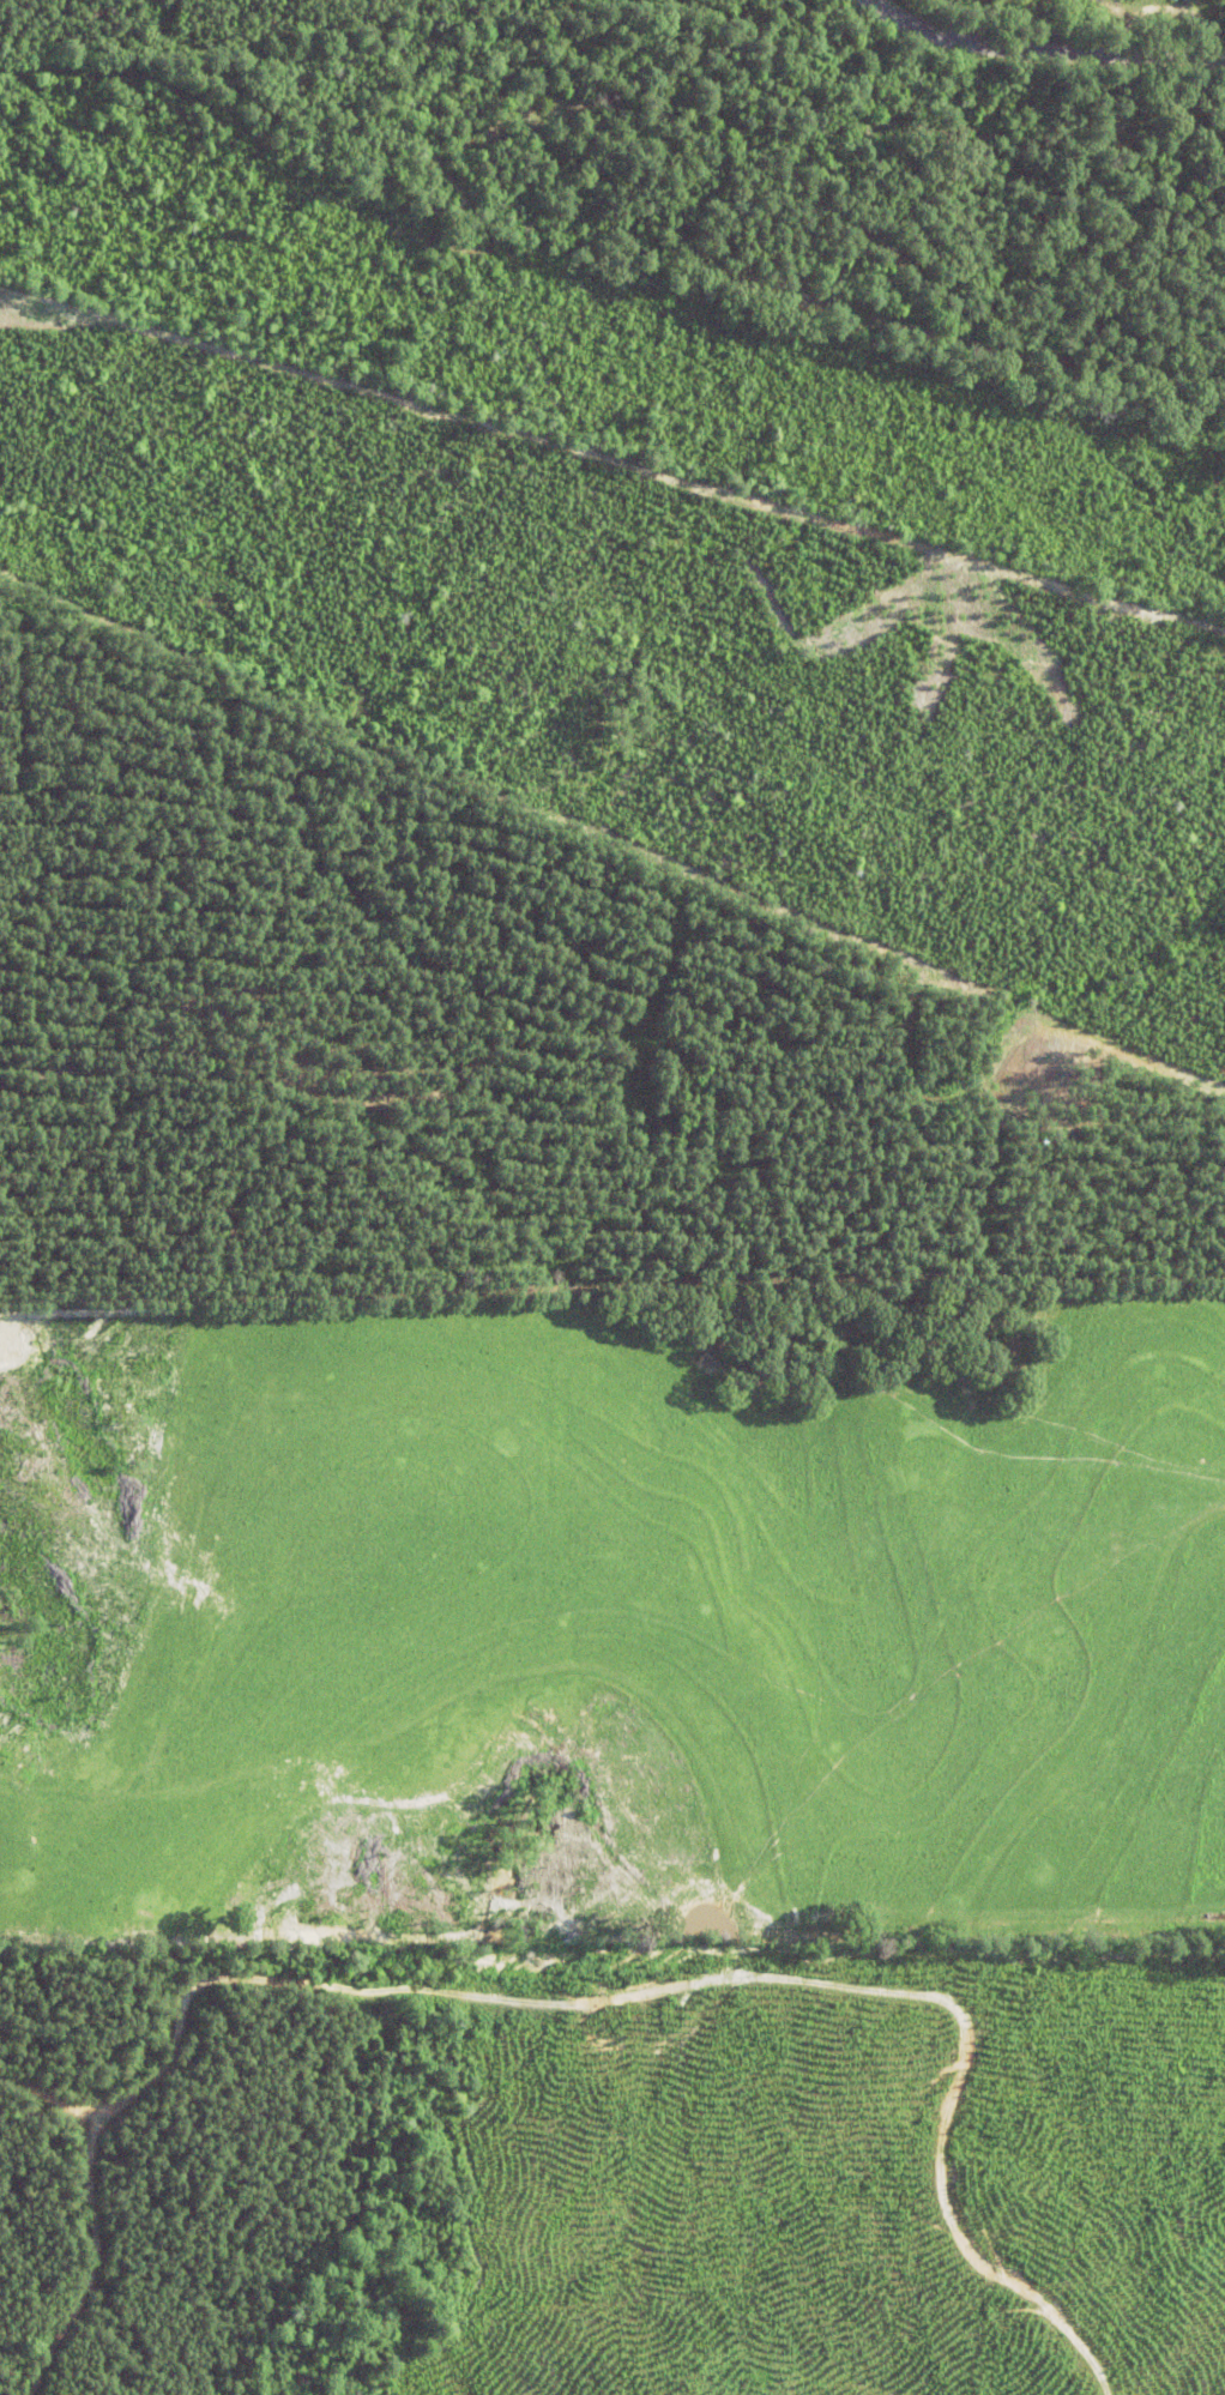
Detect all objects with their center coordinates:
building: (1165, 0)
road: (1046, 47)

